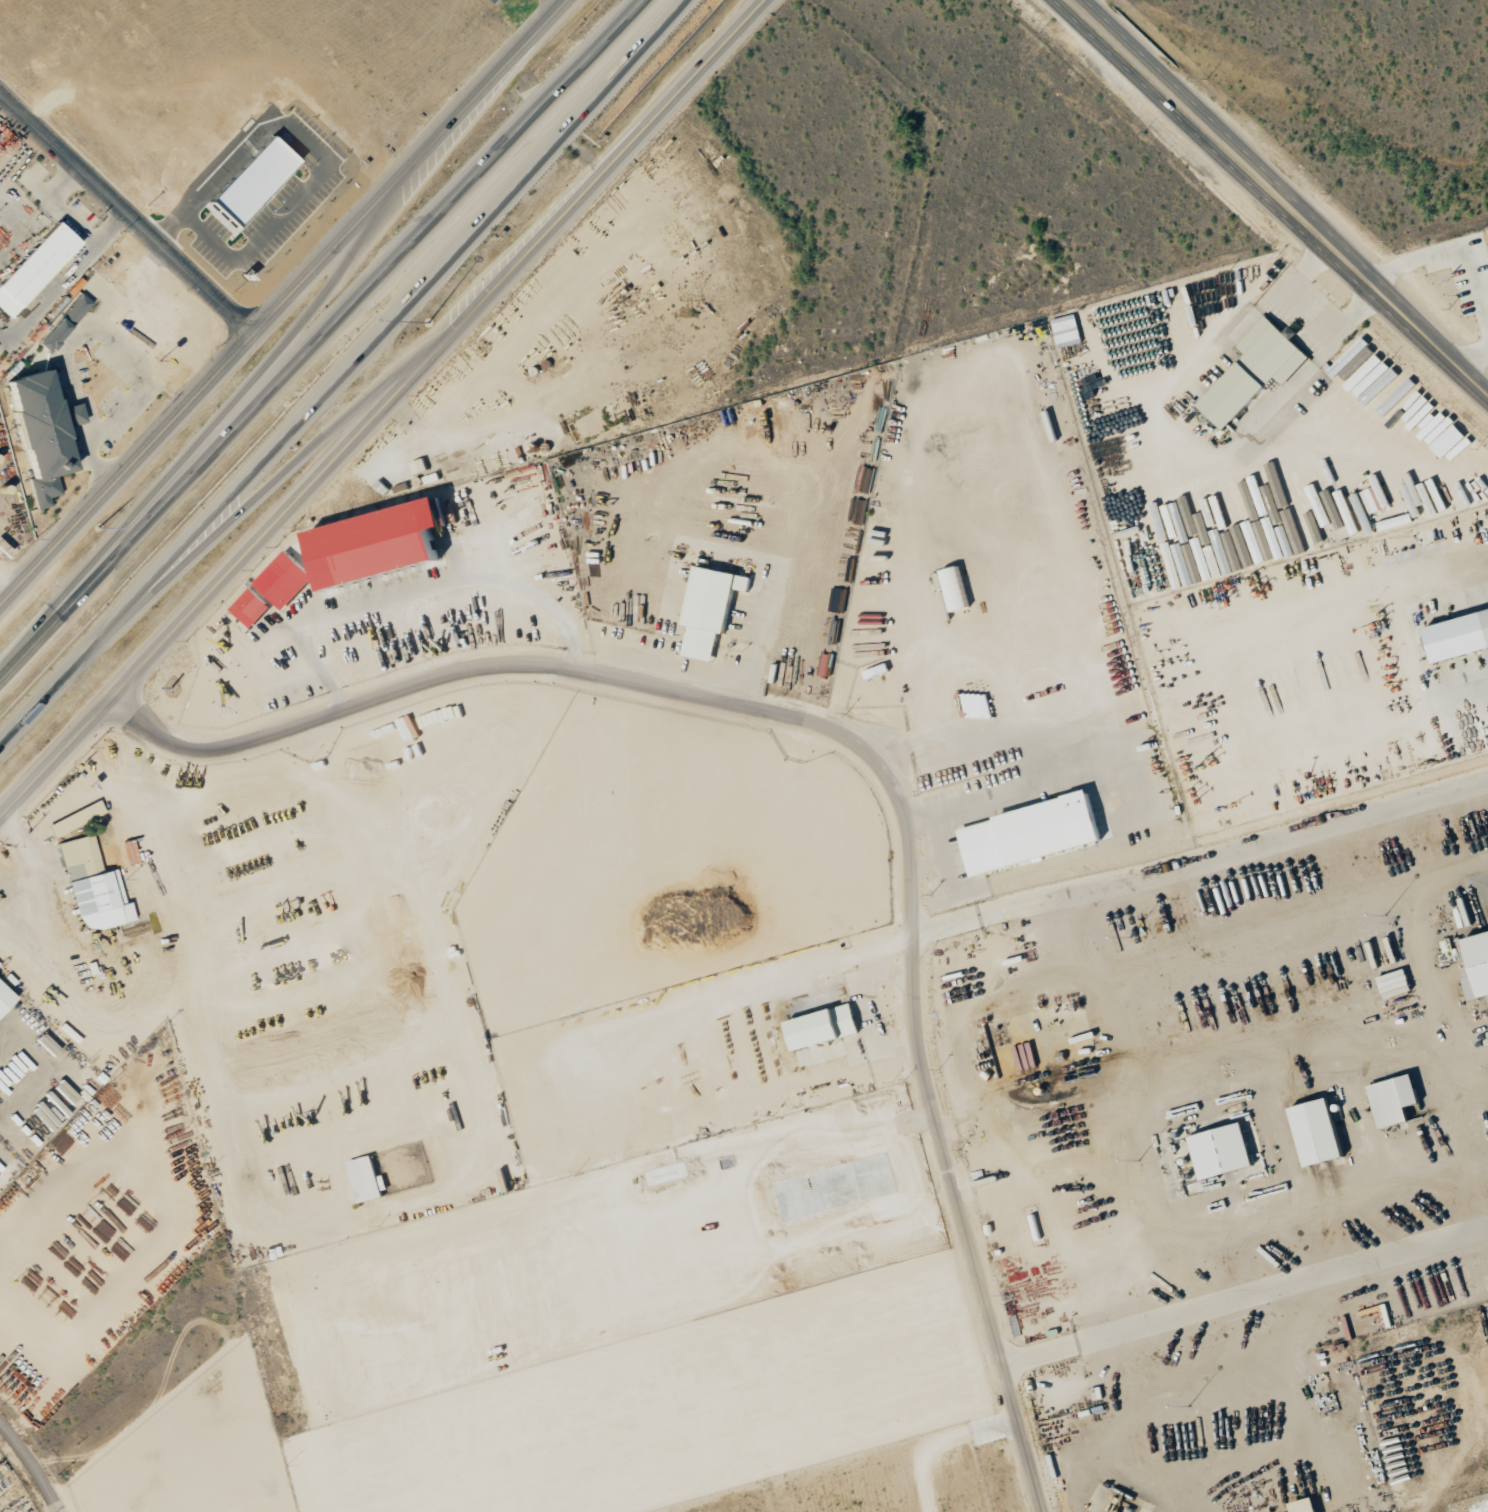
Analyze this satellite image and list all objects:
road: (556, 3)
building: (253, 181)
building: (311, 193)
road: (1280, 196)
road: (128, 206)
building: (34, 268)
road: (283, 302)
building: (64, 322)
building: (1066, 329)
road: (318, 335)
road: (344, 368)
building: (1255, 372)
road: (383, 409)
building: (43, 431)
road: (200, 437)
building: (1454, 445)
building: (419, 466)
road: (257, 492)
building: (1374, 498)
building: (379, 545)
road: (8, 582)
building: (273, 589)
building: (710, 609)
road: (1404, 627)
building: (1459, 635)
road: (863, 749)
building: (75, 818)
building: (1031, 833)
road: (1201, 857)
building: (92, 887)
building: (1477, 965)
building: (5, 998)
road: (126, 1019)
building: (823, 1027)
building: (47, 1044)
building: (1395, 1100)
building: (1318, 1133)
building: (1222, 1151)
building: (364, 1179)
road: (167, 1215)
road: (1245, 1295)
road: (34, 1464)
building: (1305, 1506)

